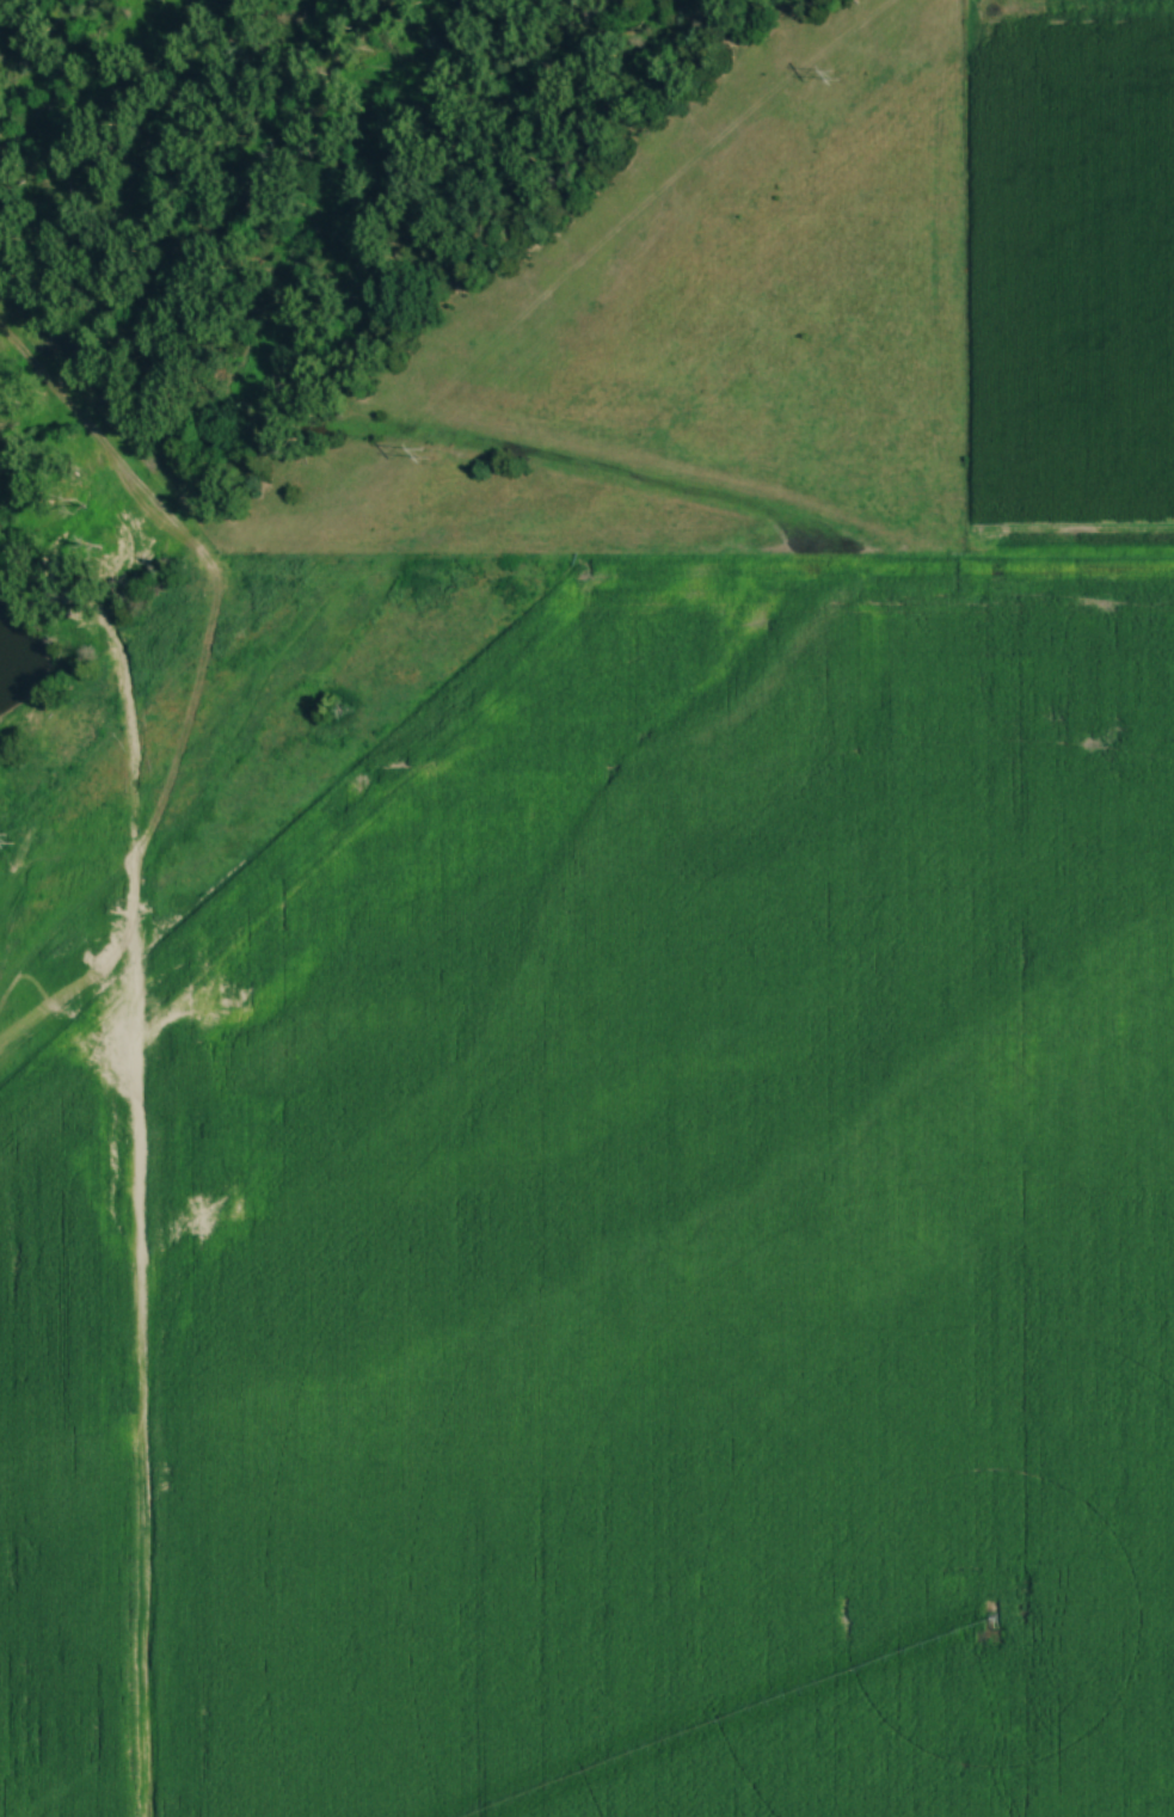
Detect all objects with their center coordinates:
power tower: (832, 74)
power tower: (423, 454)
power tower: (7, 839)

